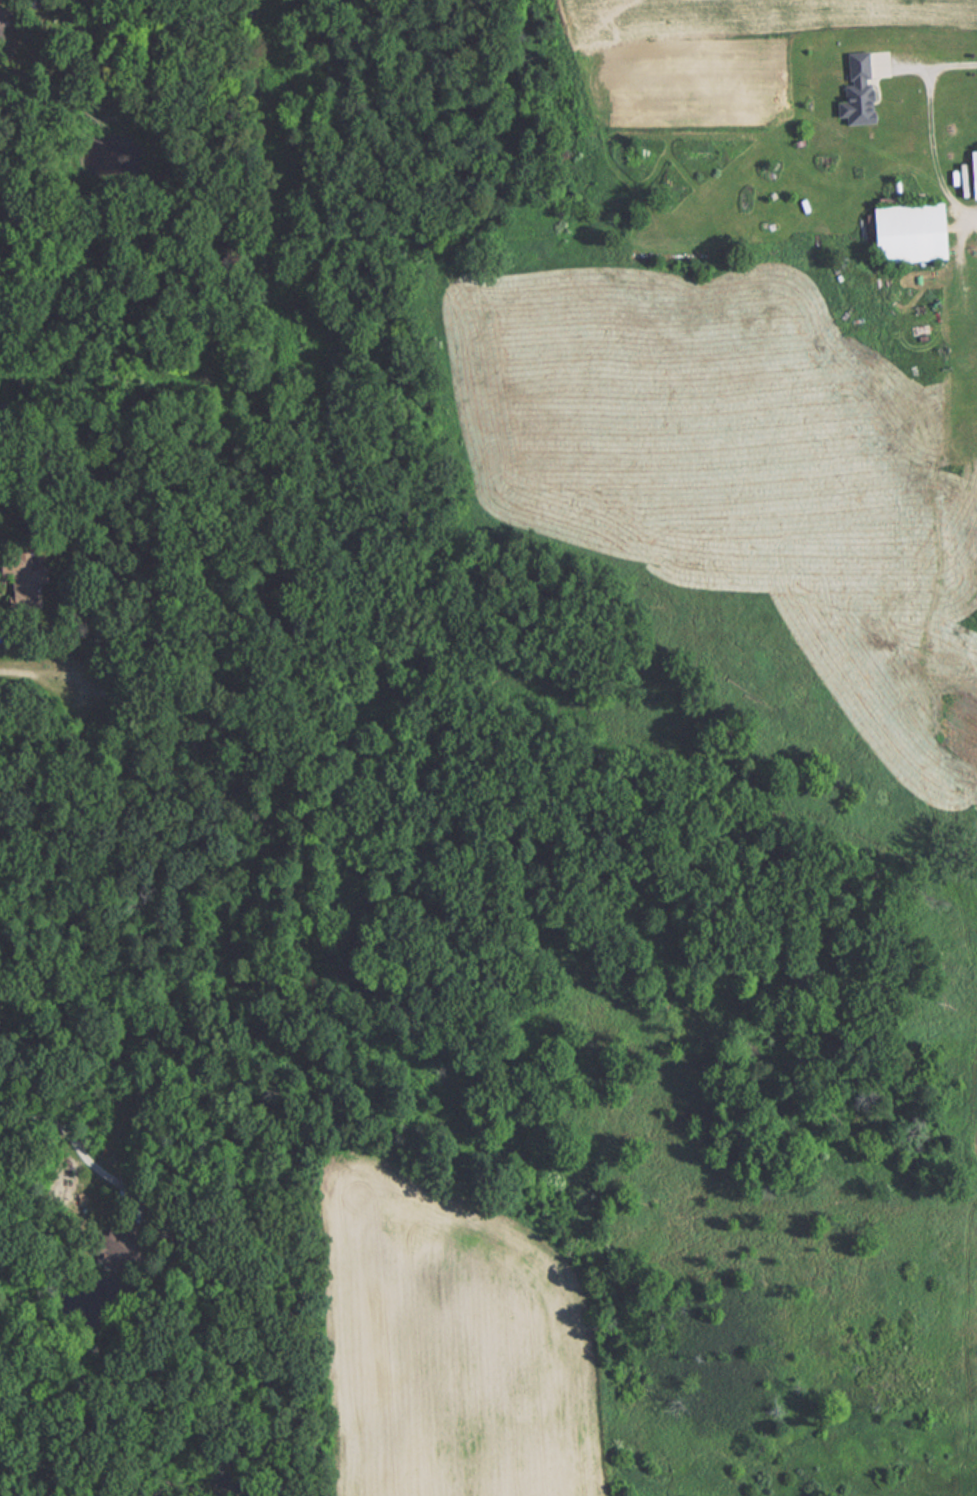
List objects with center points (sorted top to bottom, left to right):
building: (854, 90)
road: (931, 131)
building: (972, 172)
building: (903, 232)
road: (60, 678)
road: (79, 1147)

